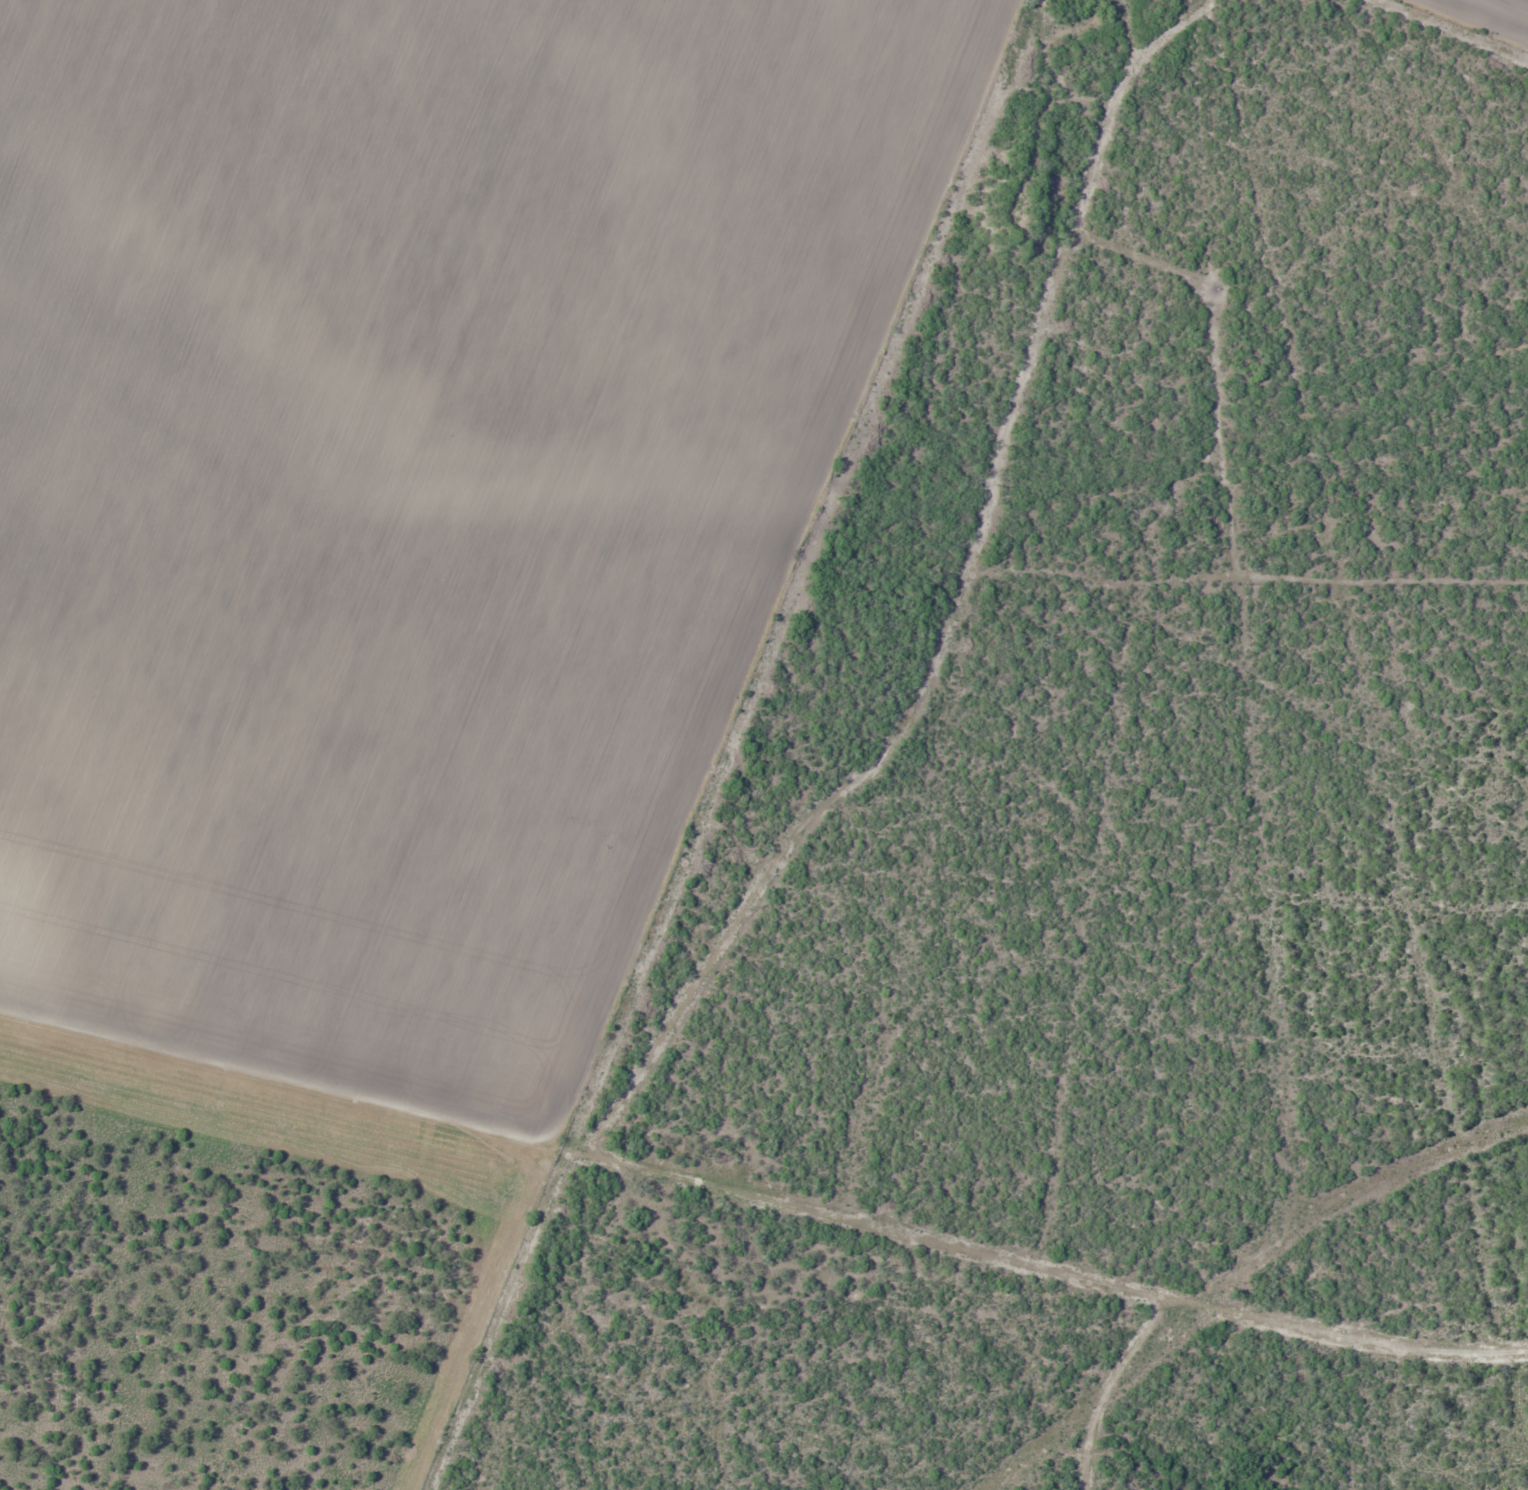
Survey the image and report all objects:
road: (762, 1222)

